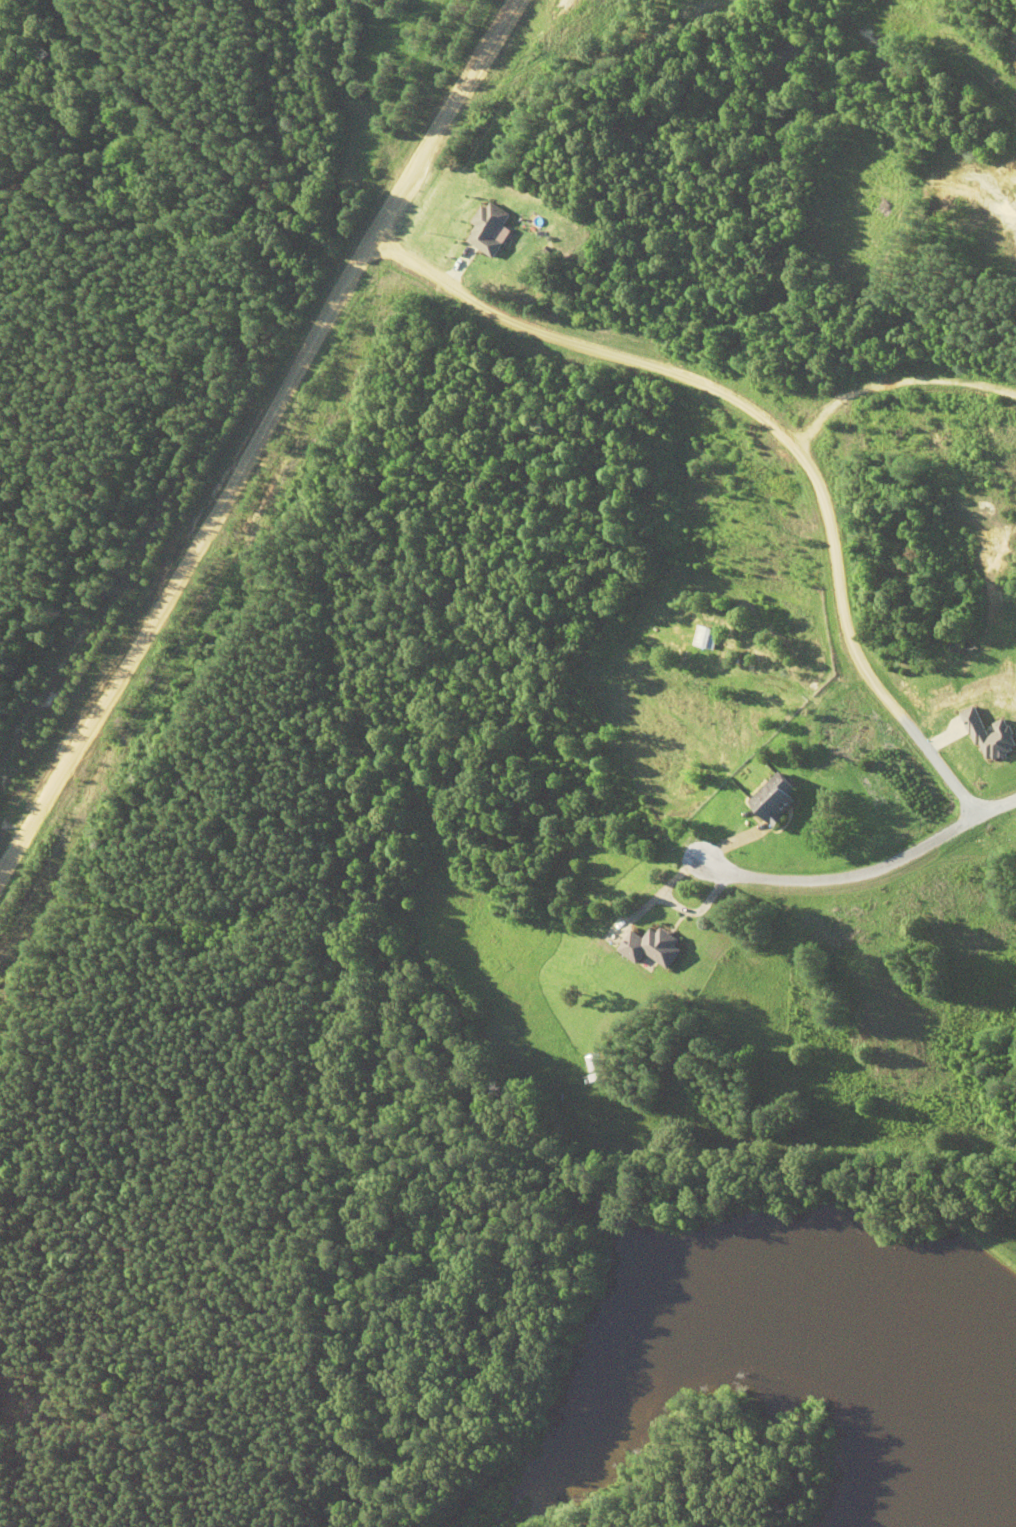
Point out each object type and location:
road: (767, 431)
road: (256, 435)
building: (702, 638)
building: (775, 798)
road: (865, 868)
building: (651, 947)
building: (593, 1062)

